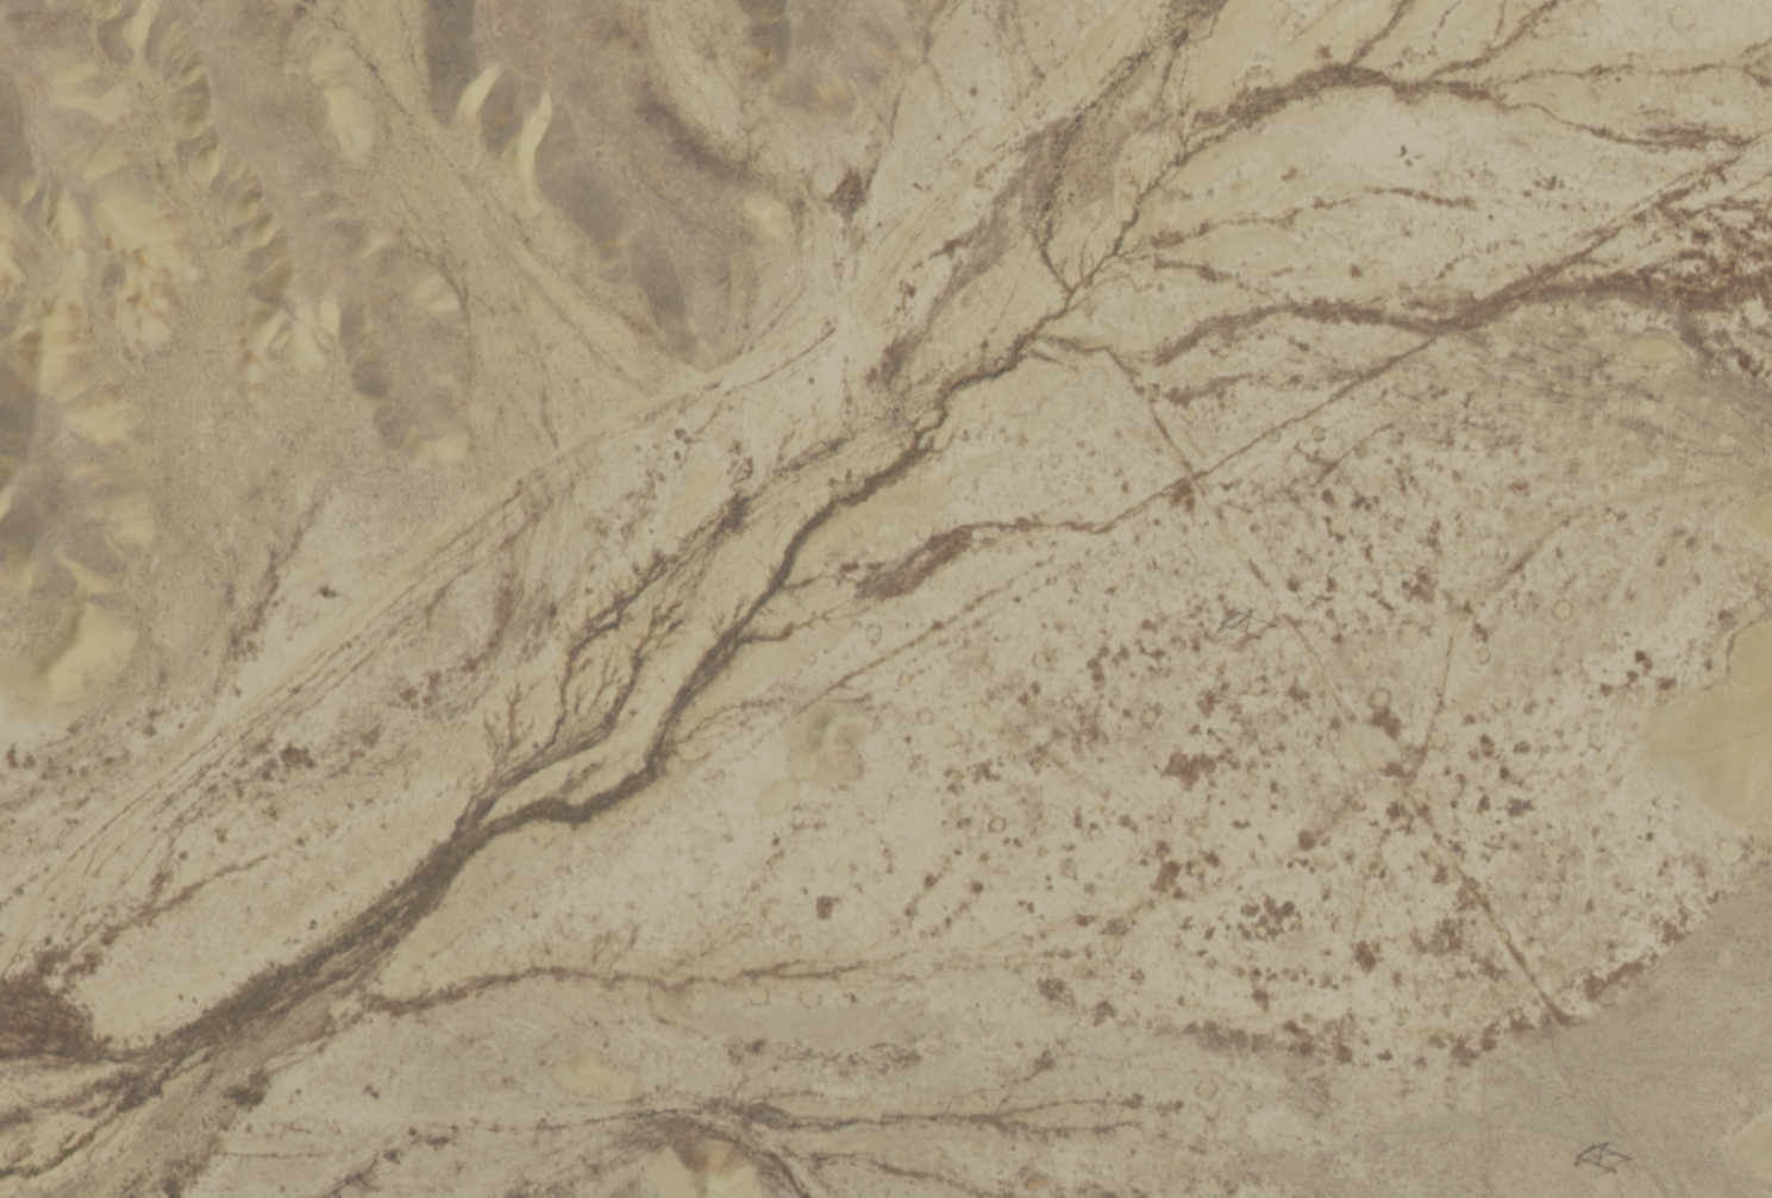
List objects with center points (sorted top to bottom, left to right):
power tower: (1267, 622)
power tower: (1620, 1161)

